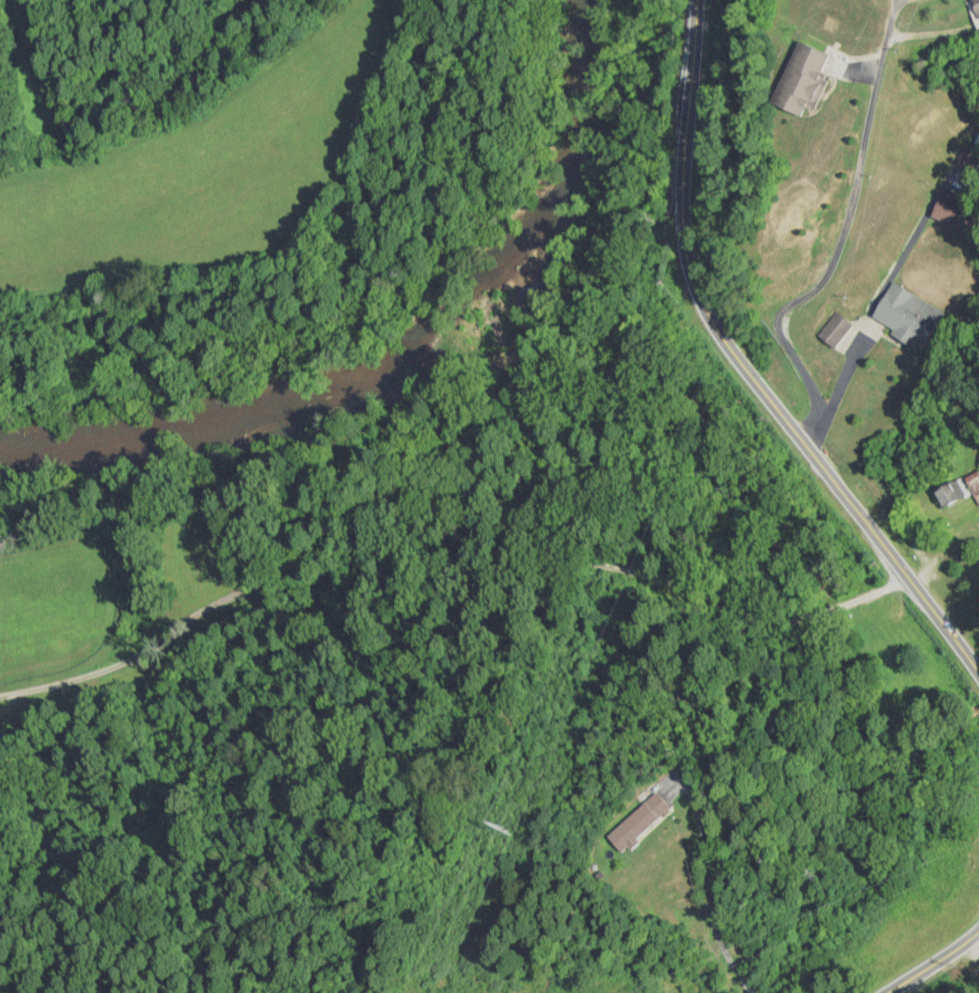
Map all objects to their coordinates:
building: (975, 8)
building: (798, 78)
building: (950, 213)
building: (907, 316)
building: (834, 330)
river: (409, 358)
road: (746, 367)
building: (957, 490)
road: (445, 536)
building: (636, 821)
power tower: (489, 826)
road: (936, 963)

